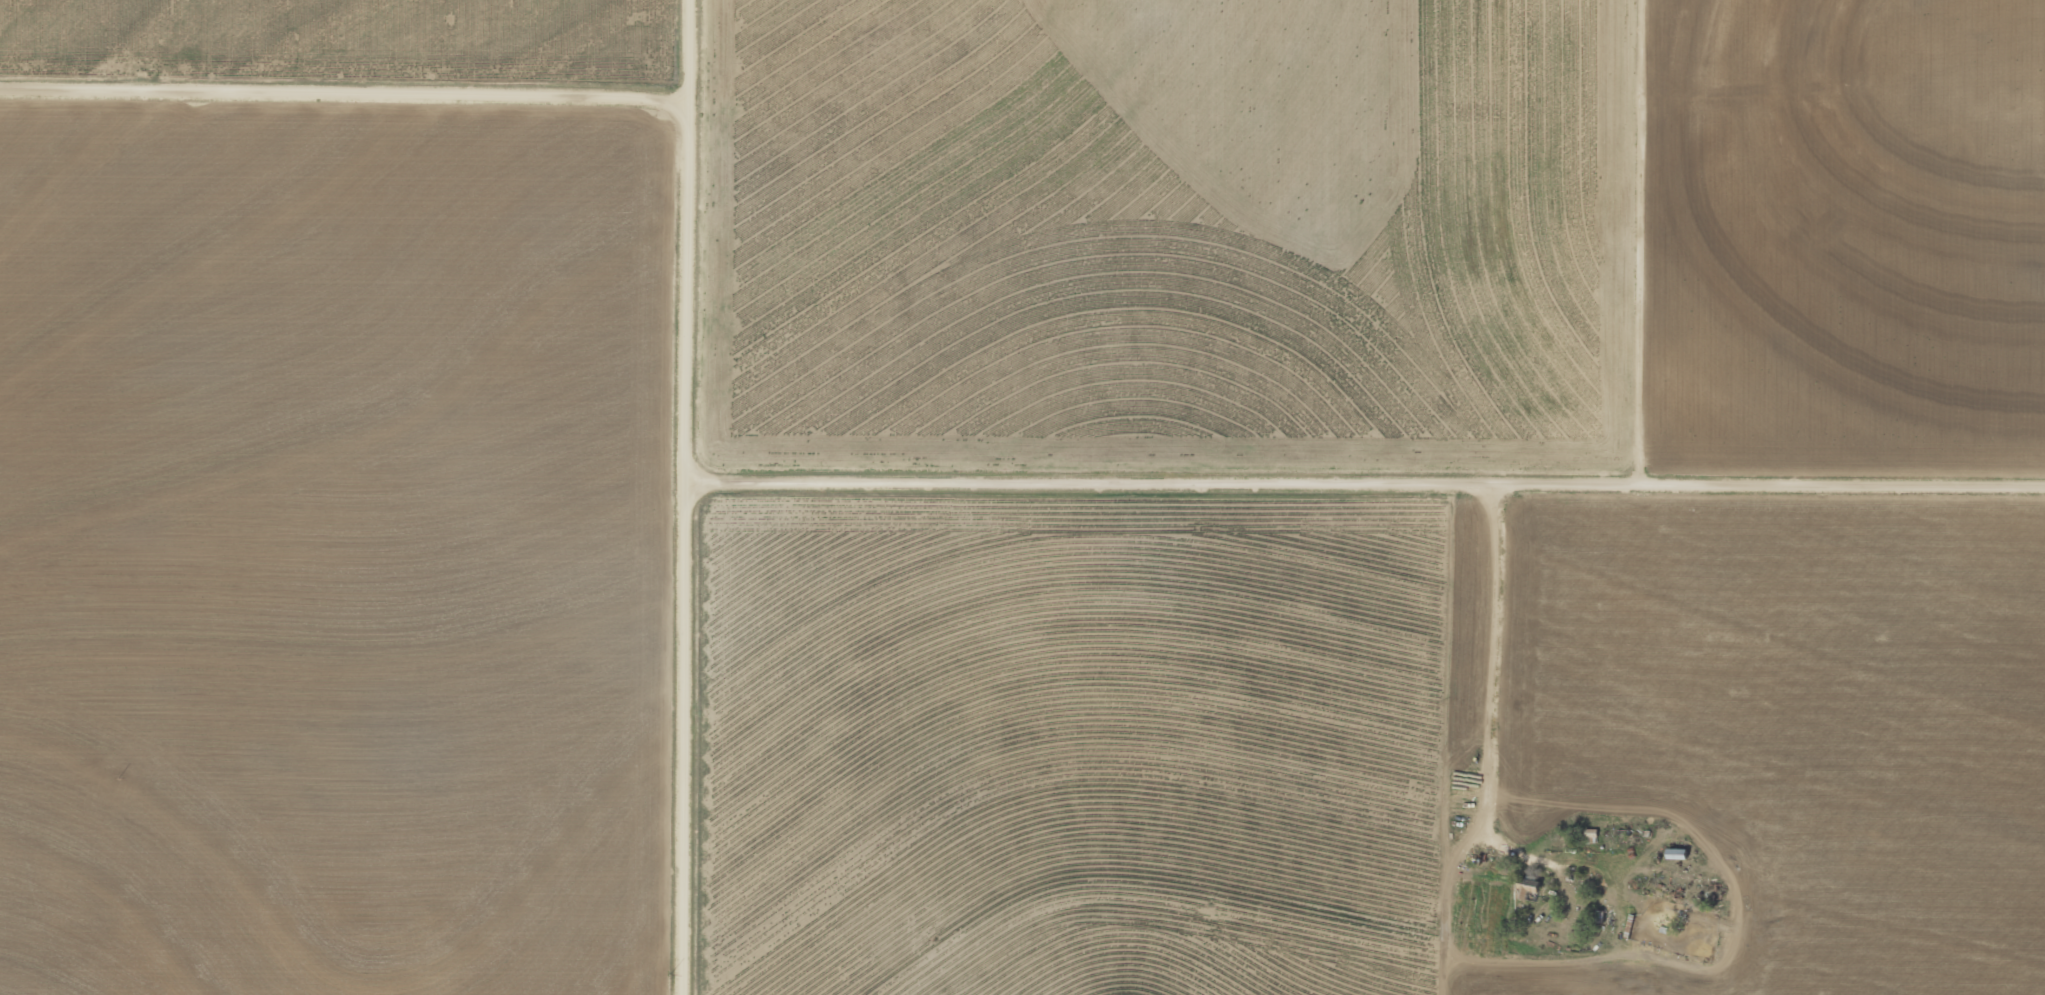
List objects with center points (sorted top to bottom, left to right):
road: (346, 96)
road: (1668, 243)
road: (1370, 485)
road: (696, 497)
road: (1486, 682)

